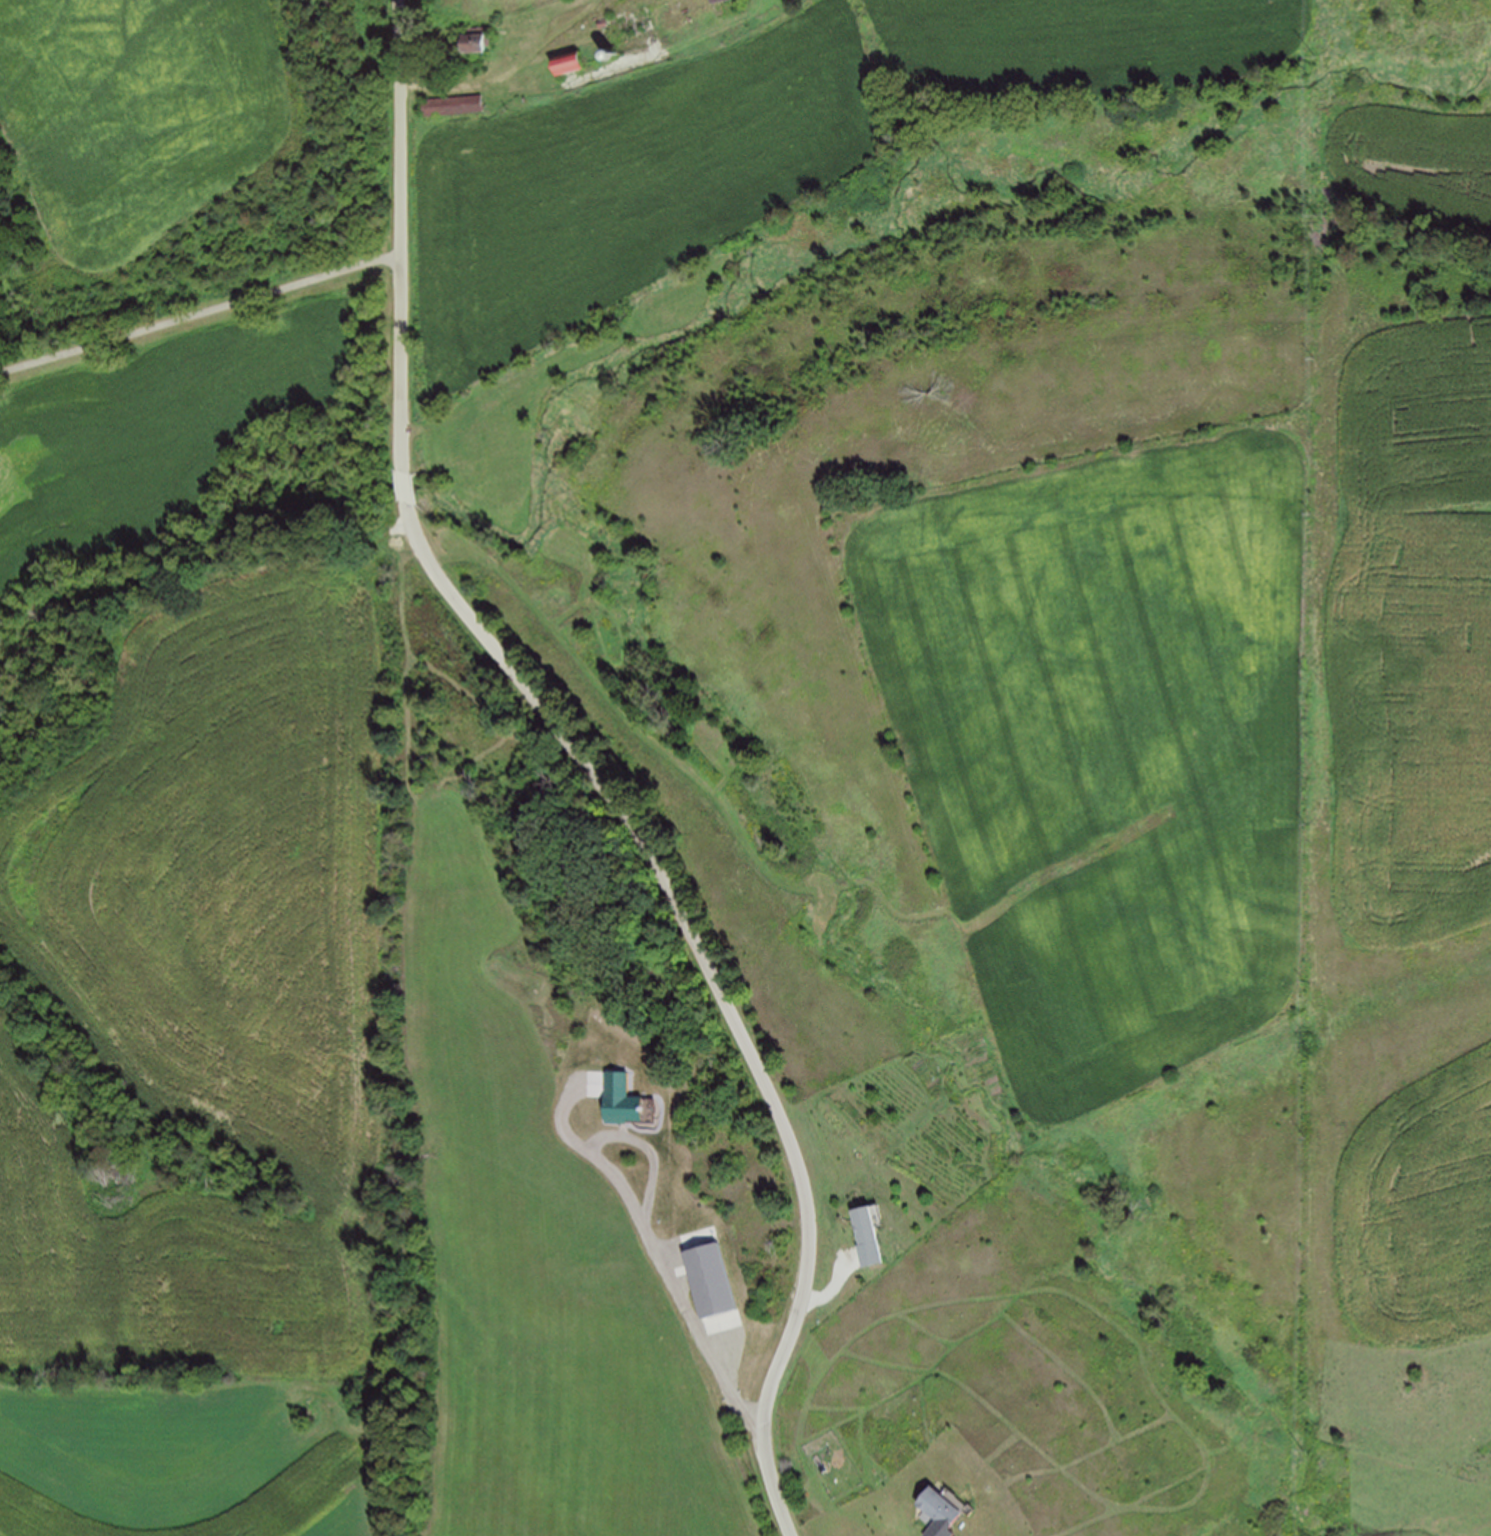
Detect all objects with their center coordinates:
building: (714, 0)
building: (476, 39)
building: (569, 63)
road: (471, 83)
building: (452, 105)
road: (404, 235)
road: (202, 314)
road: (404, 487)
road: (716, 987)
building: (865, 1236)
building: (710, 1280)
road: (831, 1287)
road: (735, 1391)
building: (937, 1512)

